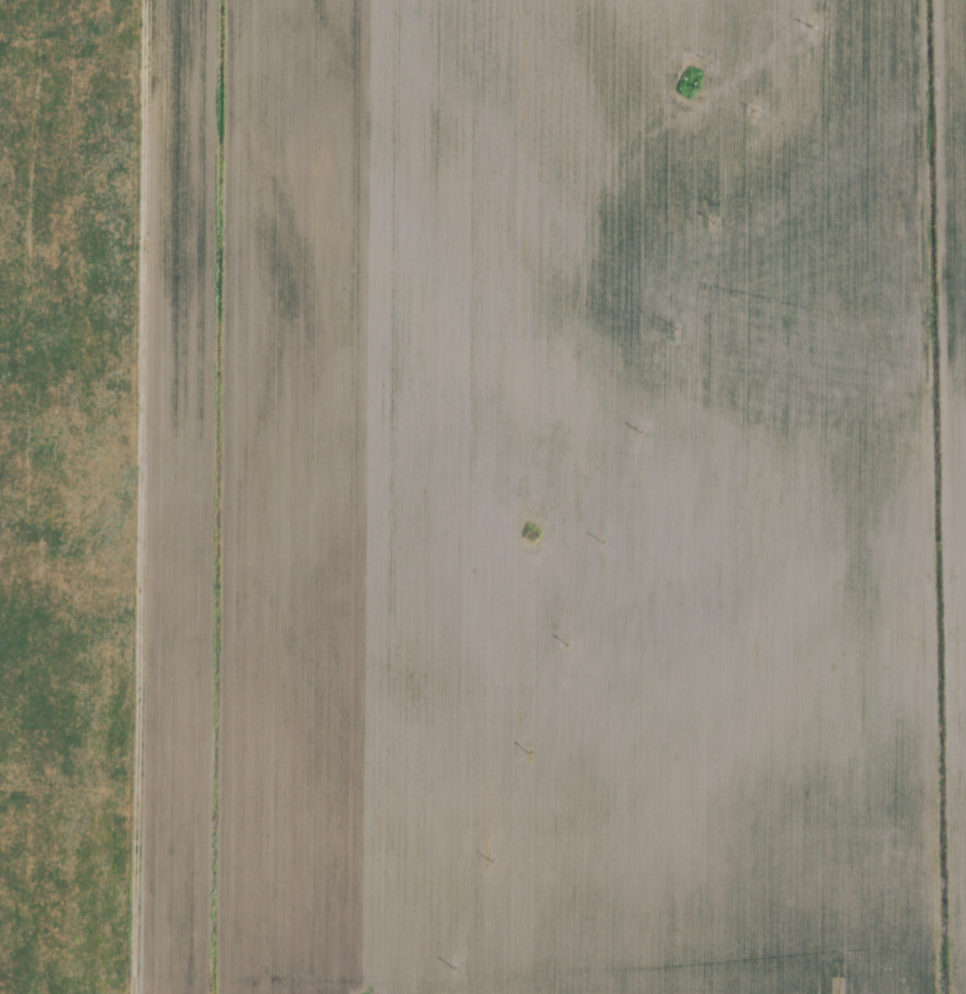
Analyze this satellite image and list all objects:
crop: (483, 497)

